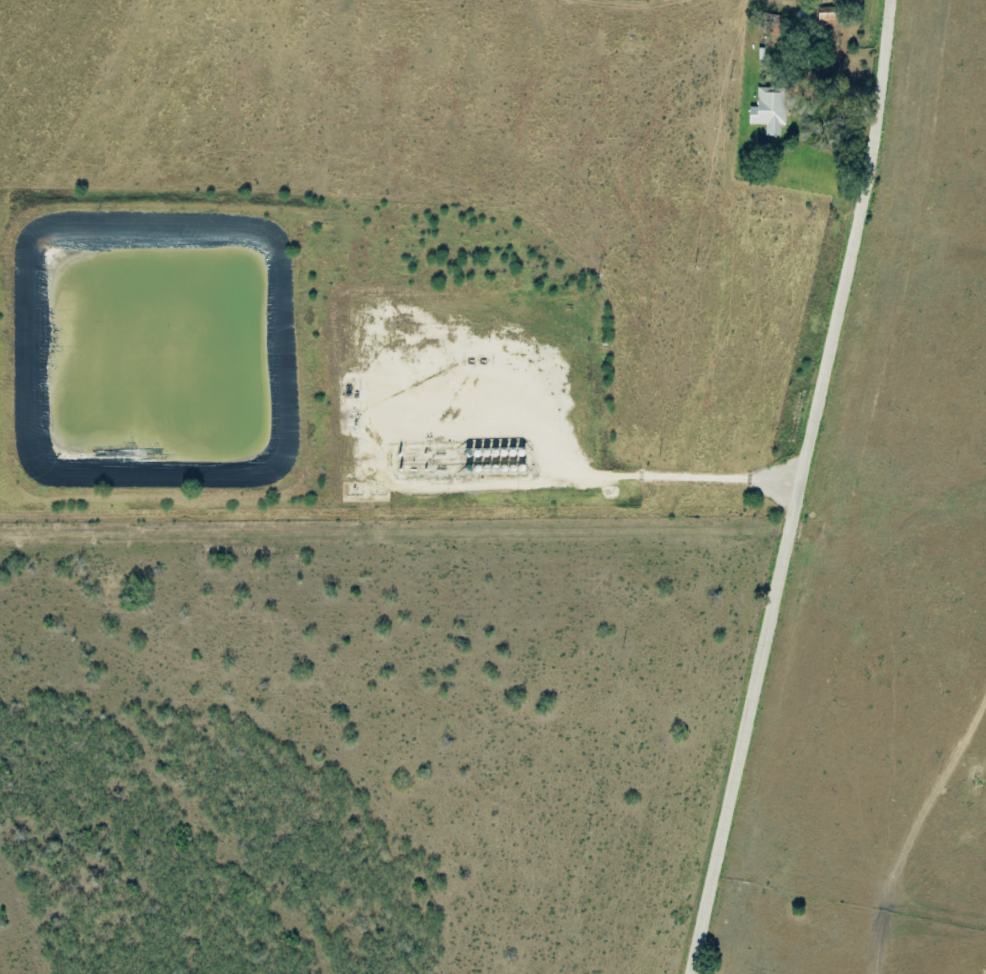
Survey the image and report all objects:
building: (765, 110)
petroleum well: (476, 367)
road: (656, 478)
road: (803, 488)

